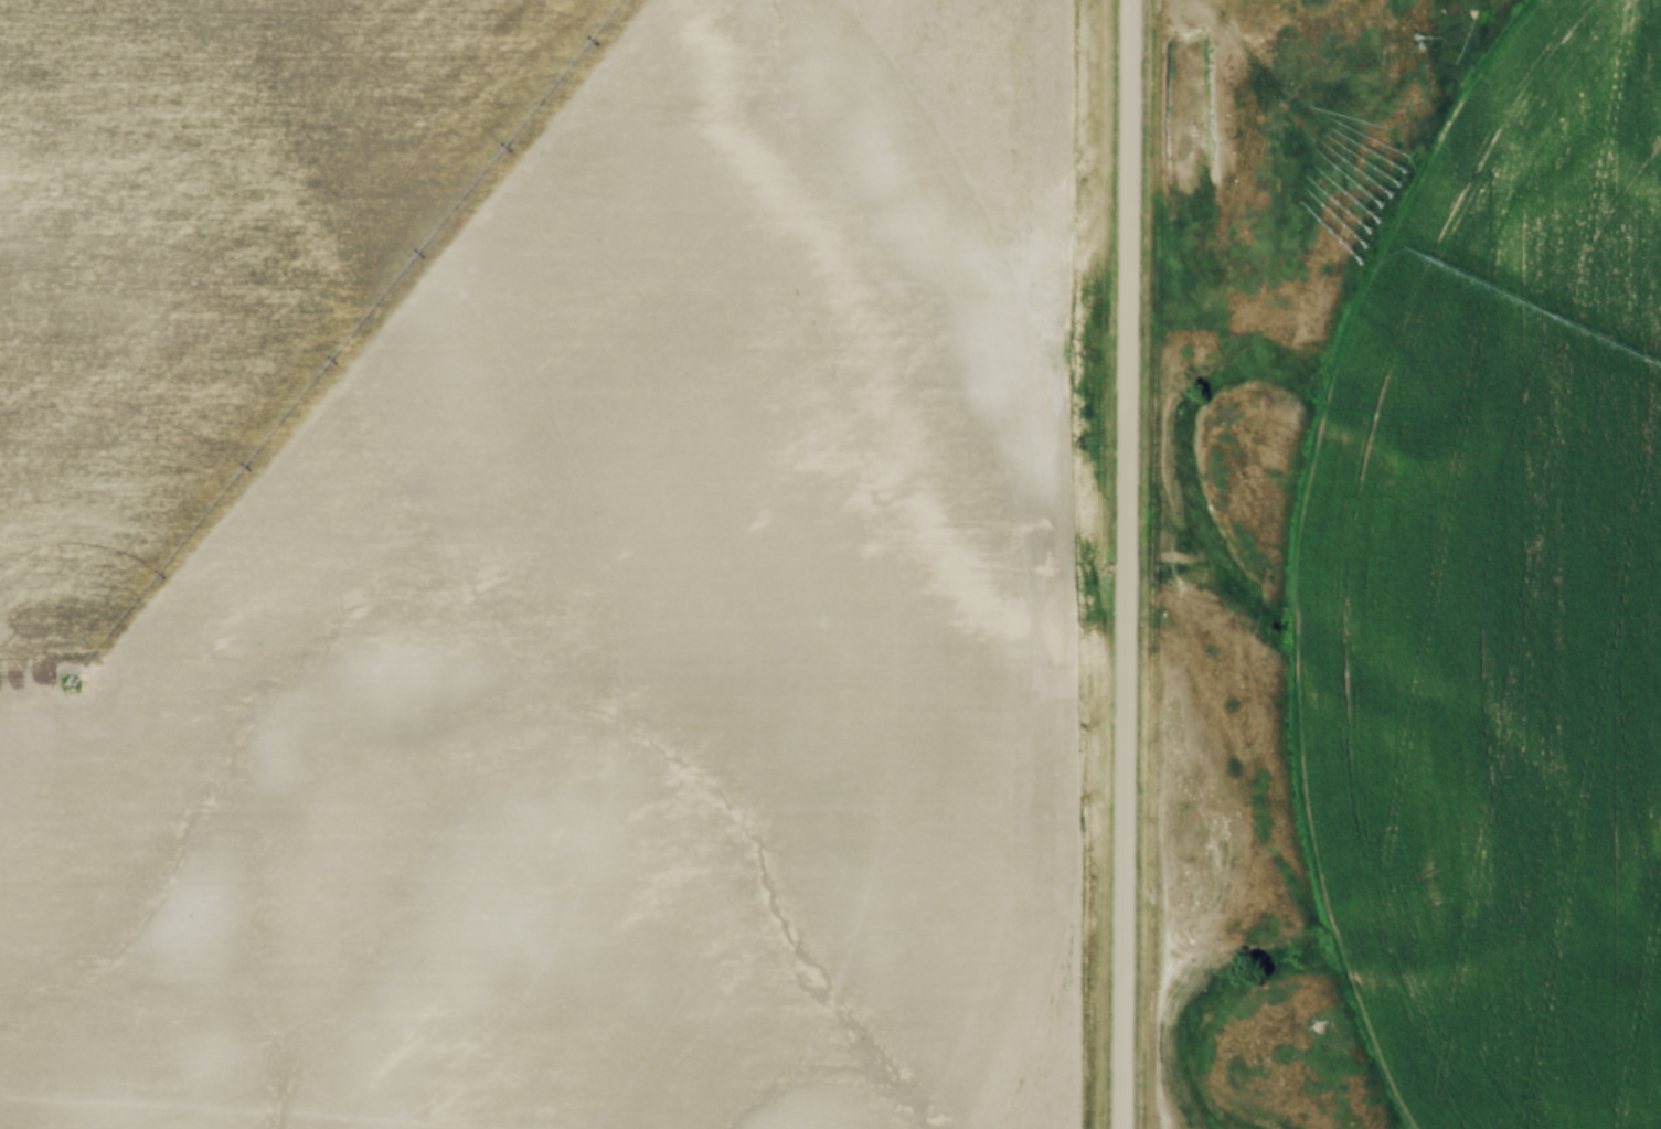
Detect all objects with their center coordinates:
road: (1122, 564)

